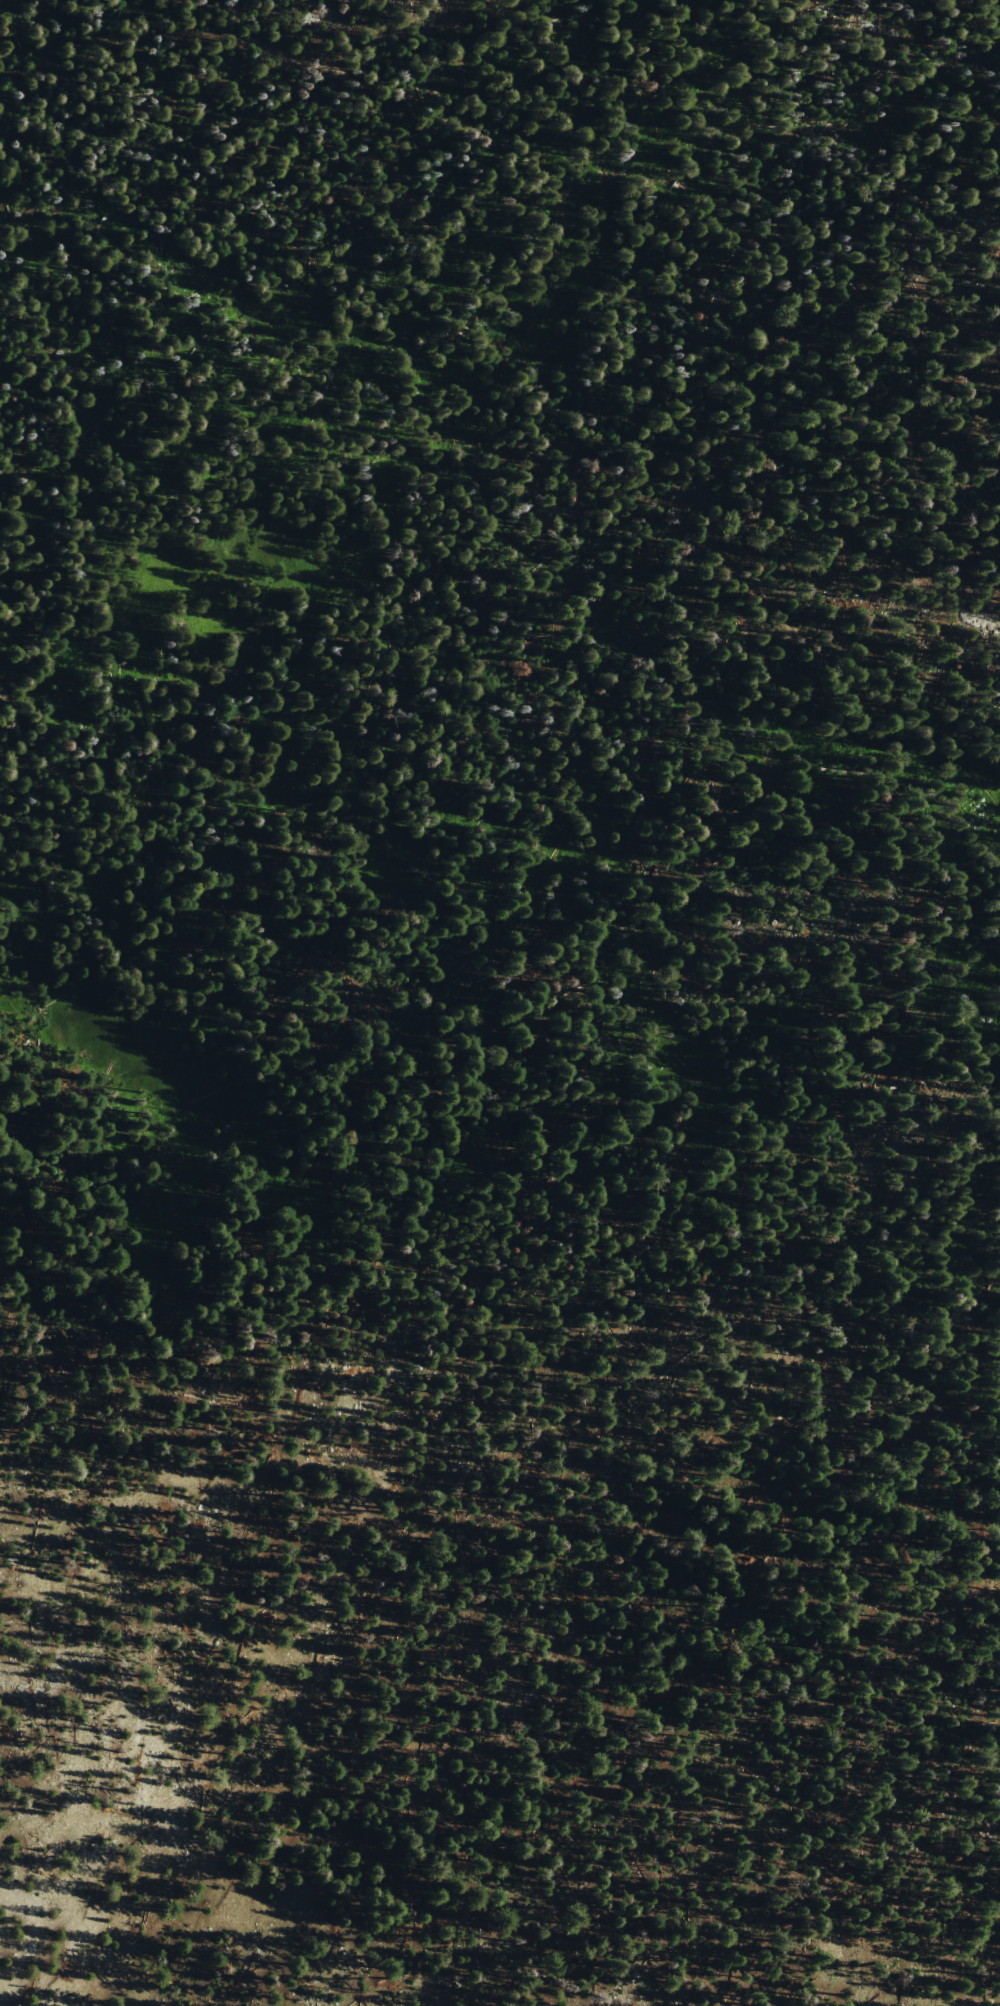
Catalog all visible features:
road: (275, 53)
road: (740, 62)
road: (749, 481)

